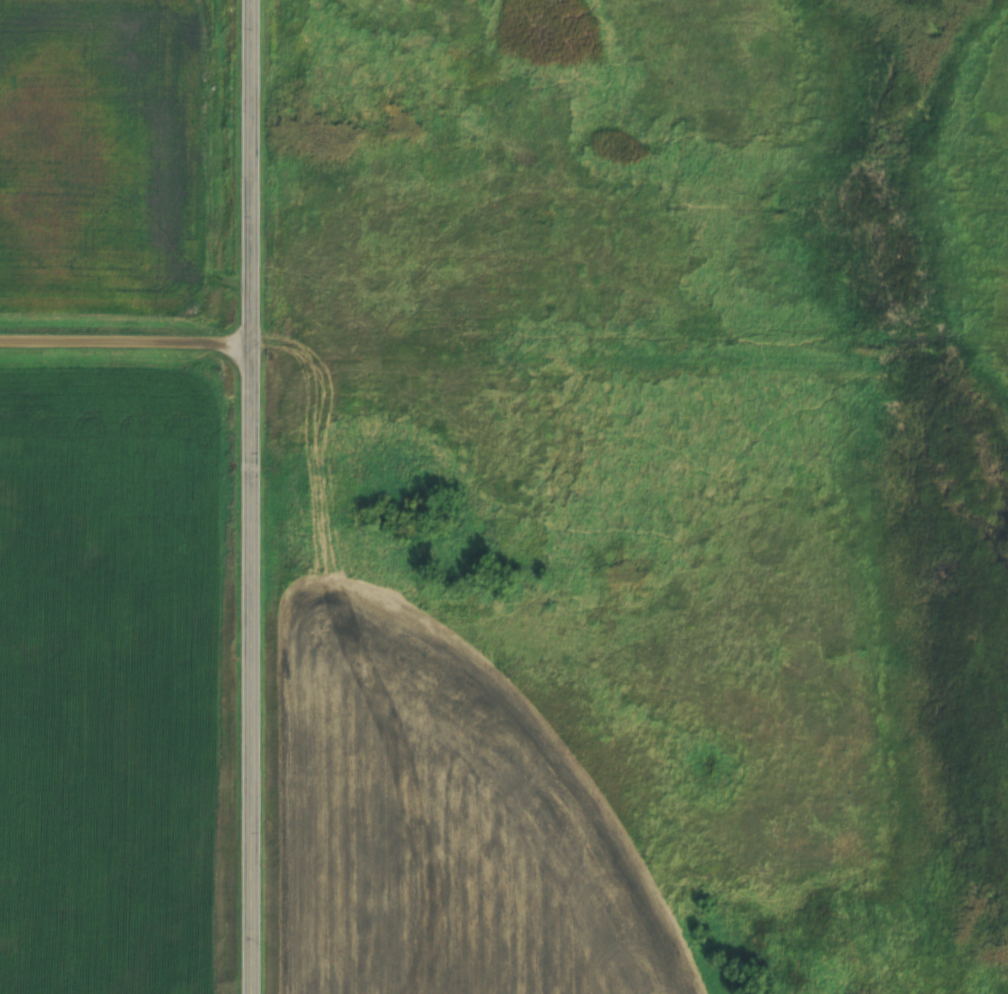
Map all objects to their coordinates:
road: (124, 342)
road: (249, 497)

